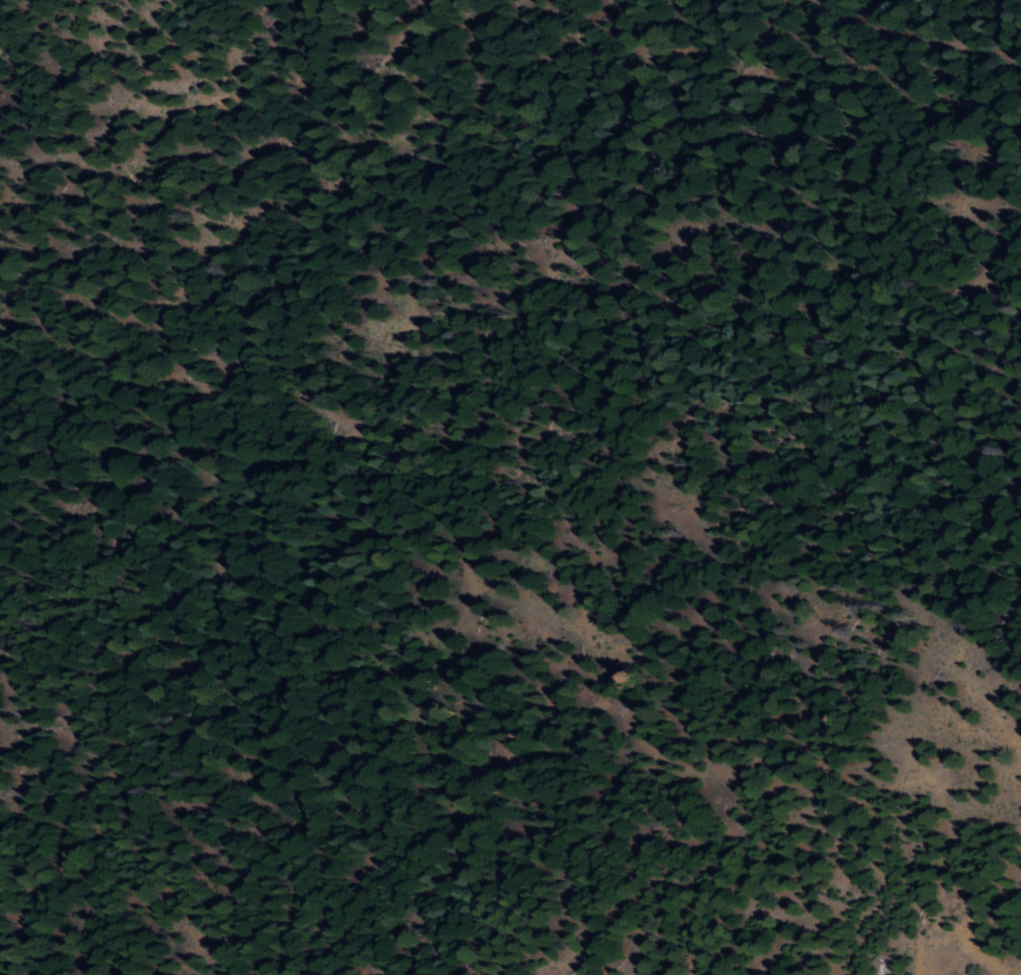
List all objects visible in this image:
road: (977, 11)

